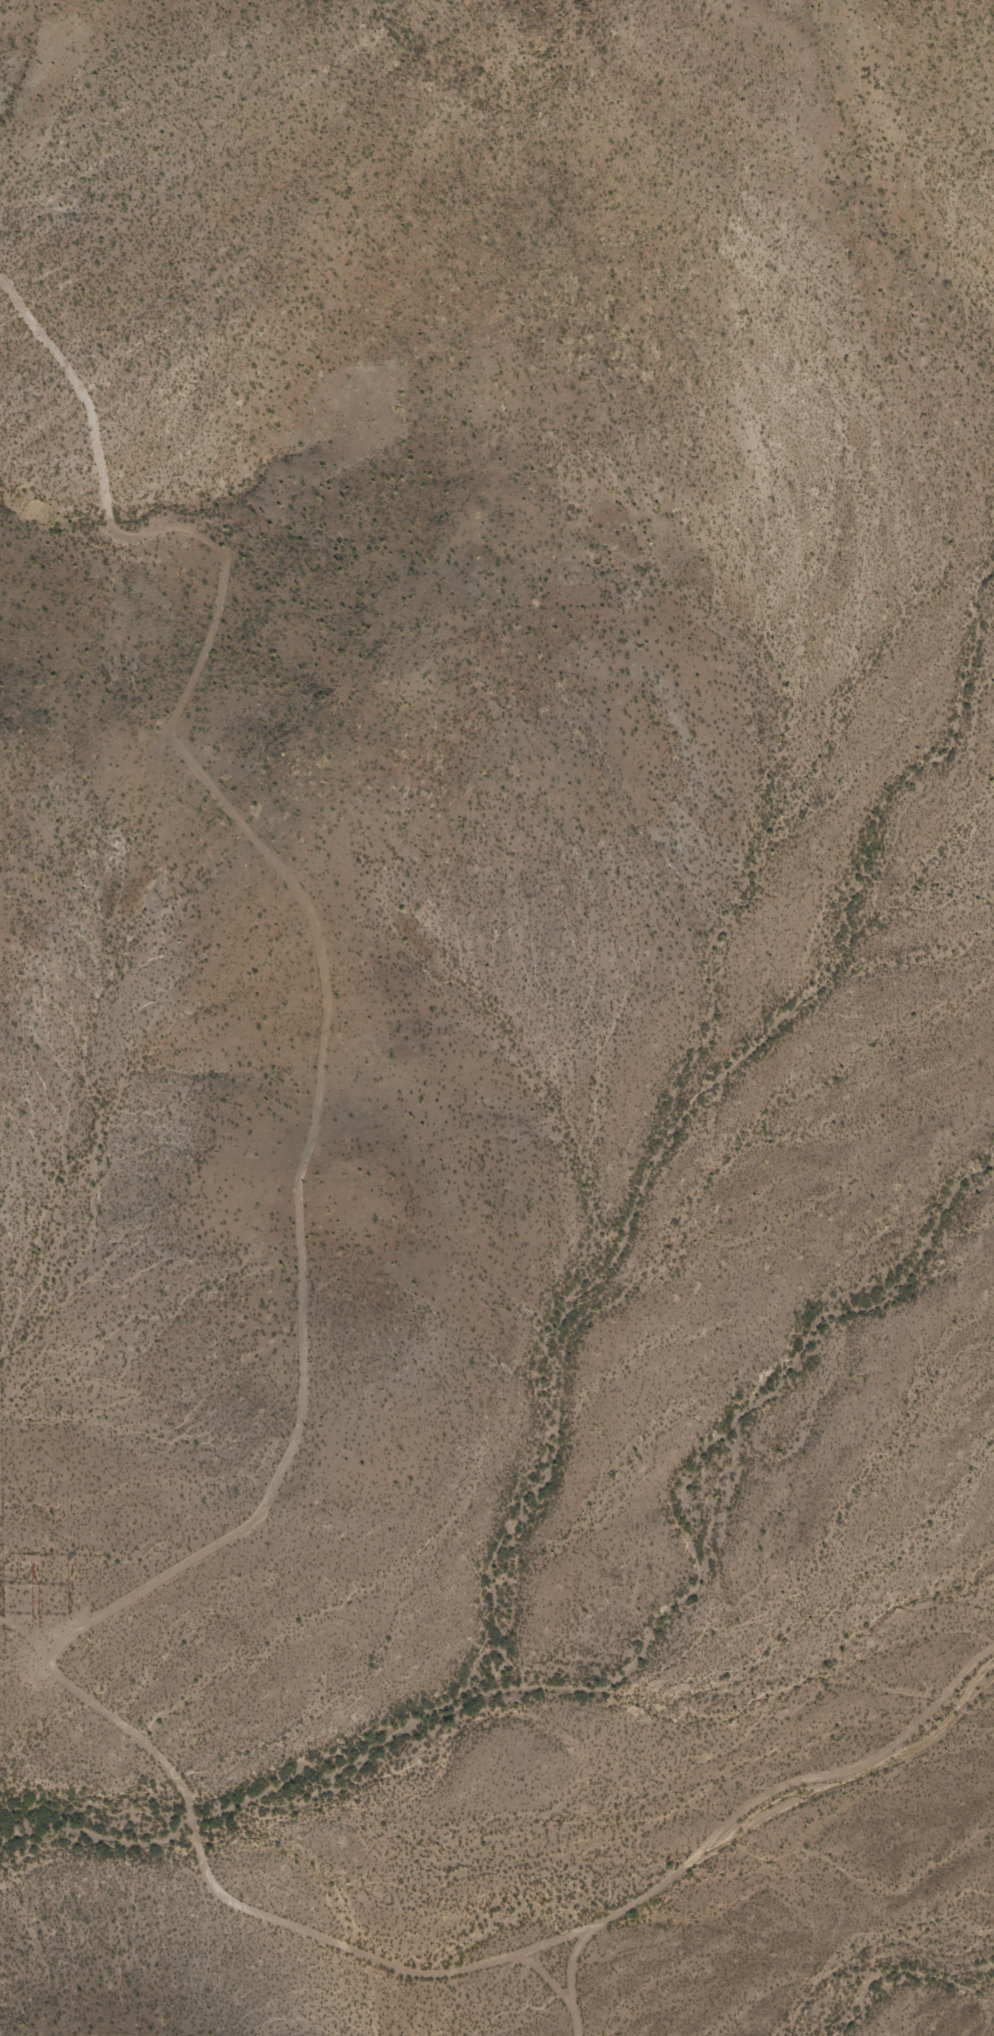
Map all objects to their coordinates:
road: (728, 1836)
road: (180, 1861)
road: (560, 1977)
road: (492, 2004)

